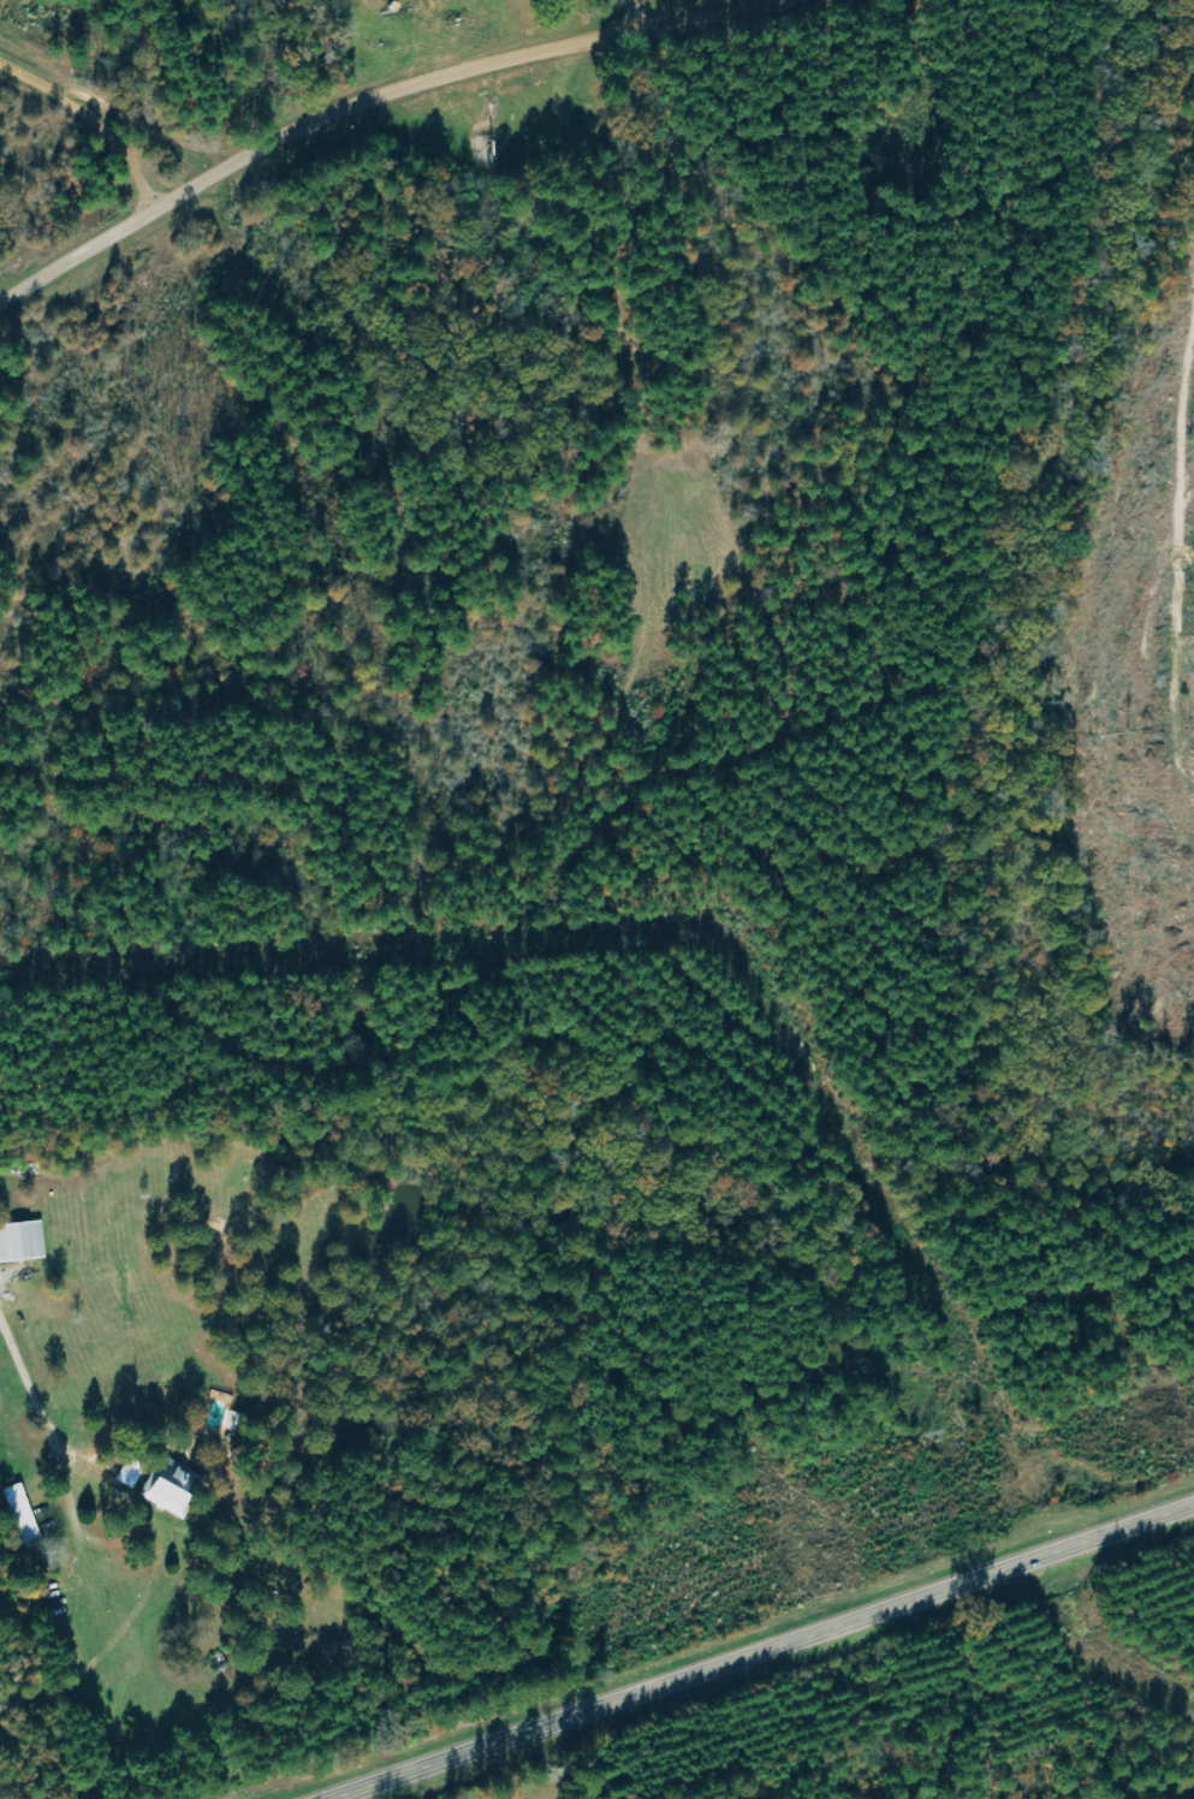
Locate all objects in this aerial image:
road: (636, 12)
road: (376, 97)
building: (173, 1490)
building: (26, 1516)
road: (81, 1537)
road: (766, 1652)

